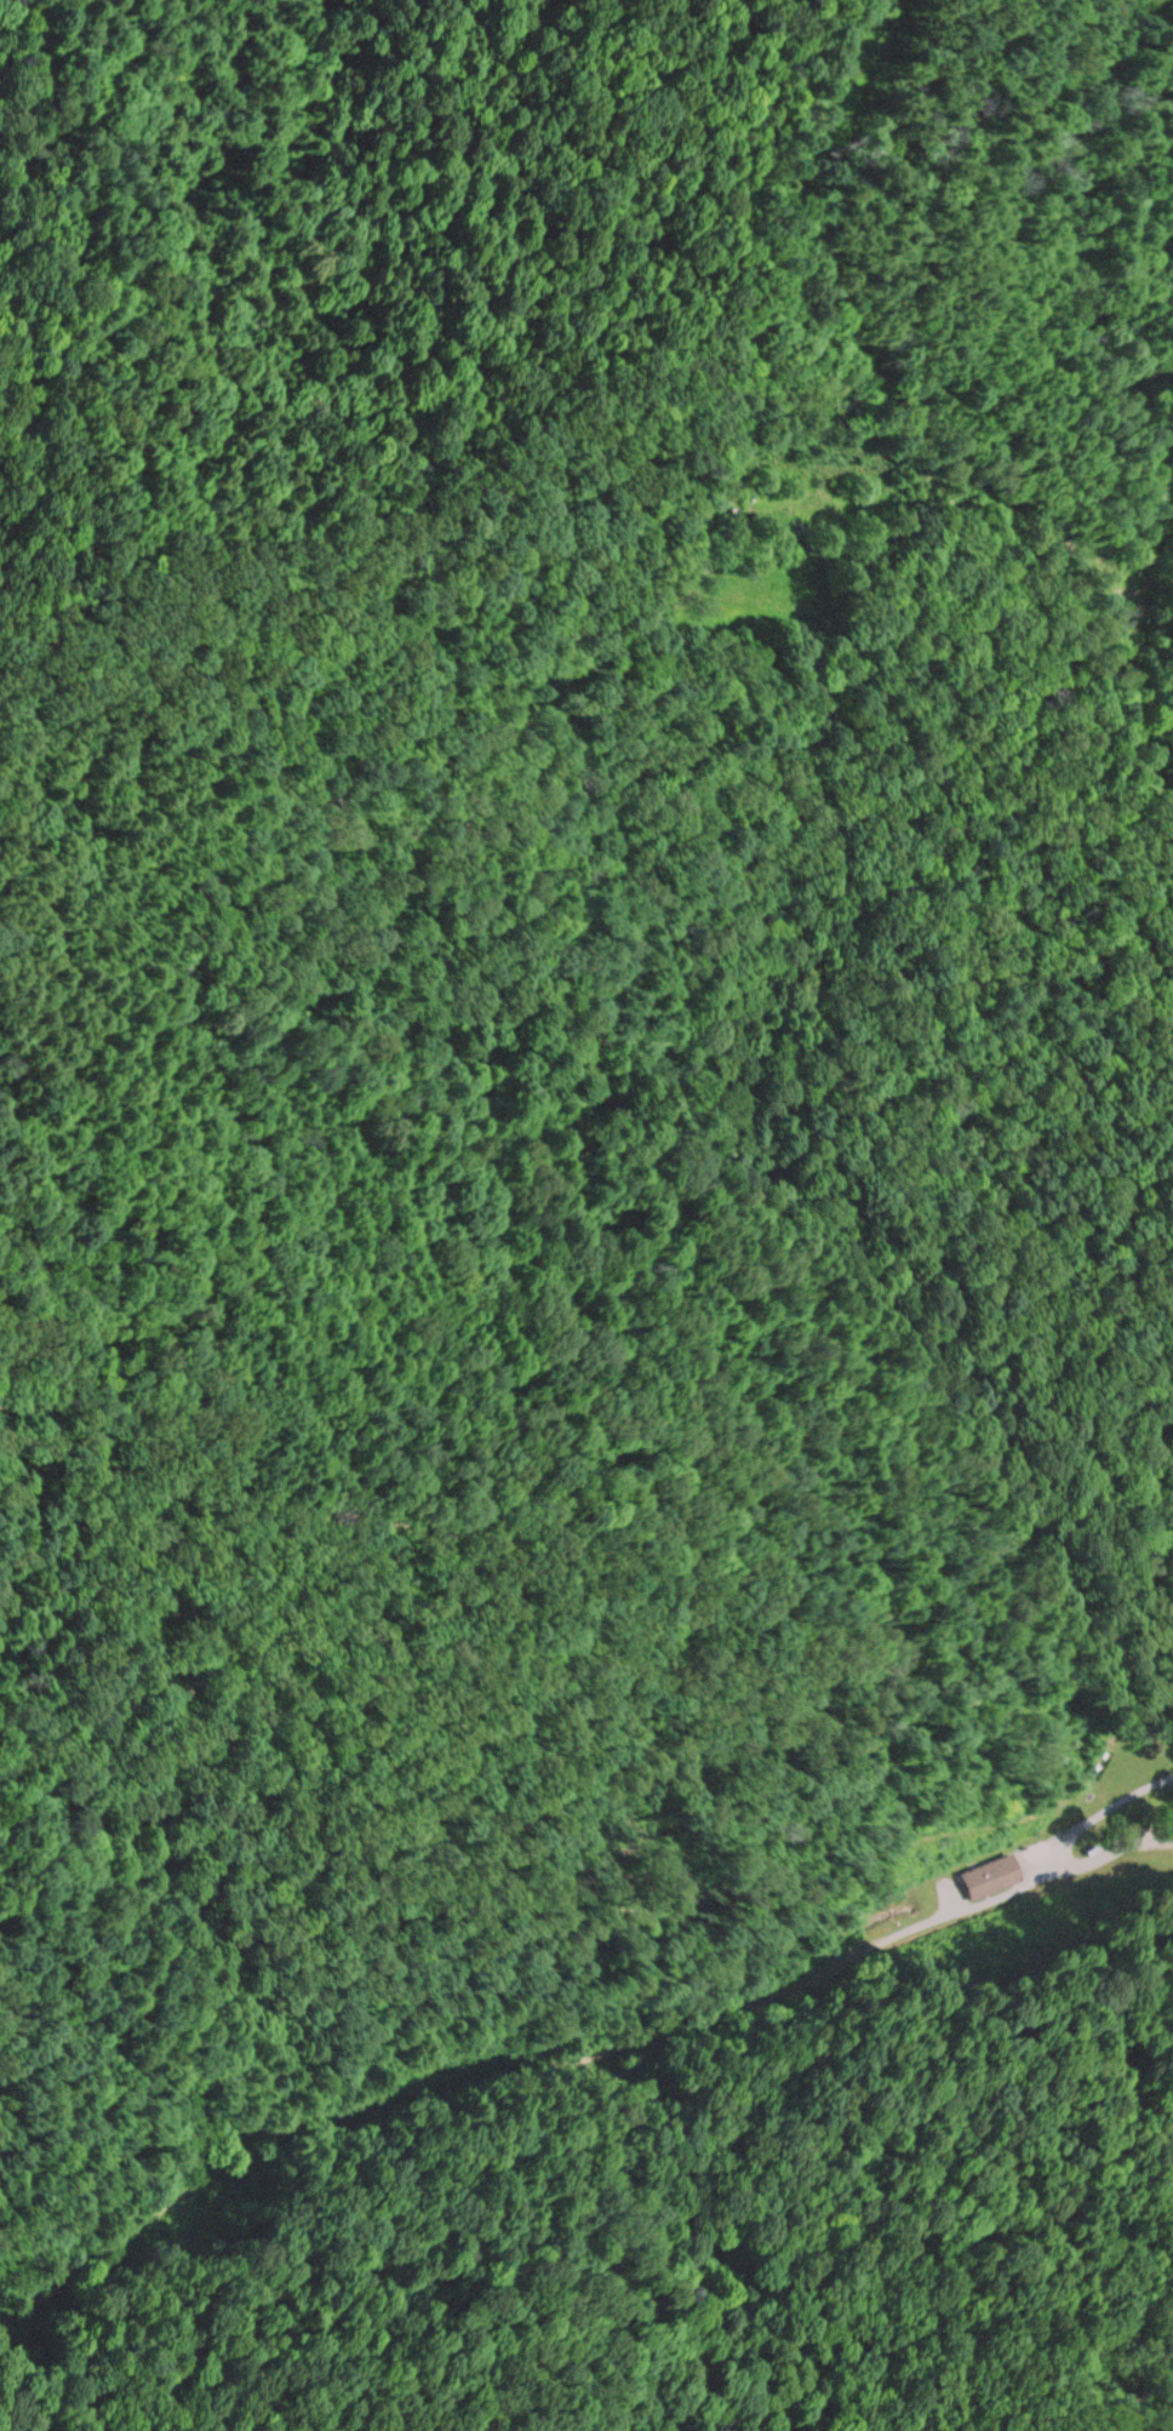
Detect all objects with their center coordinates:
building: (979, 1876)

